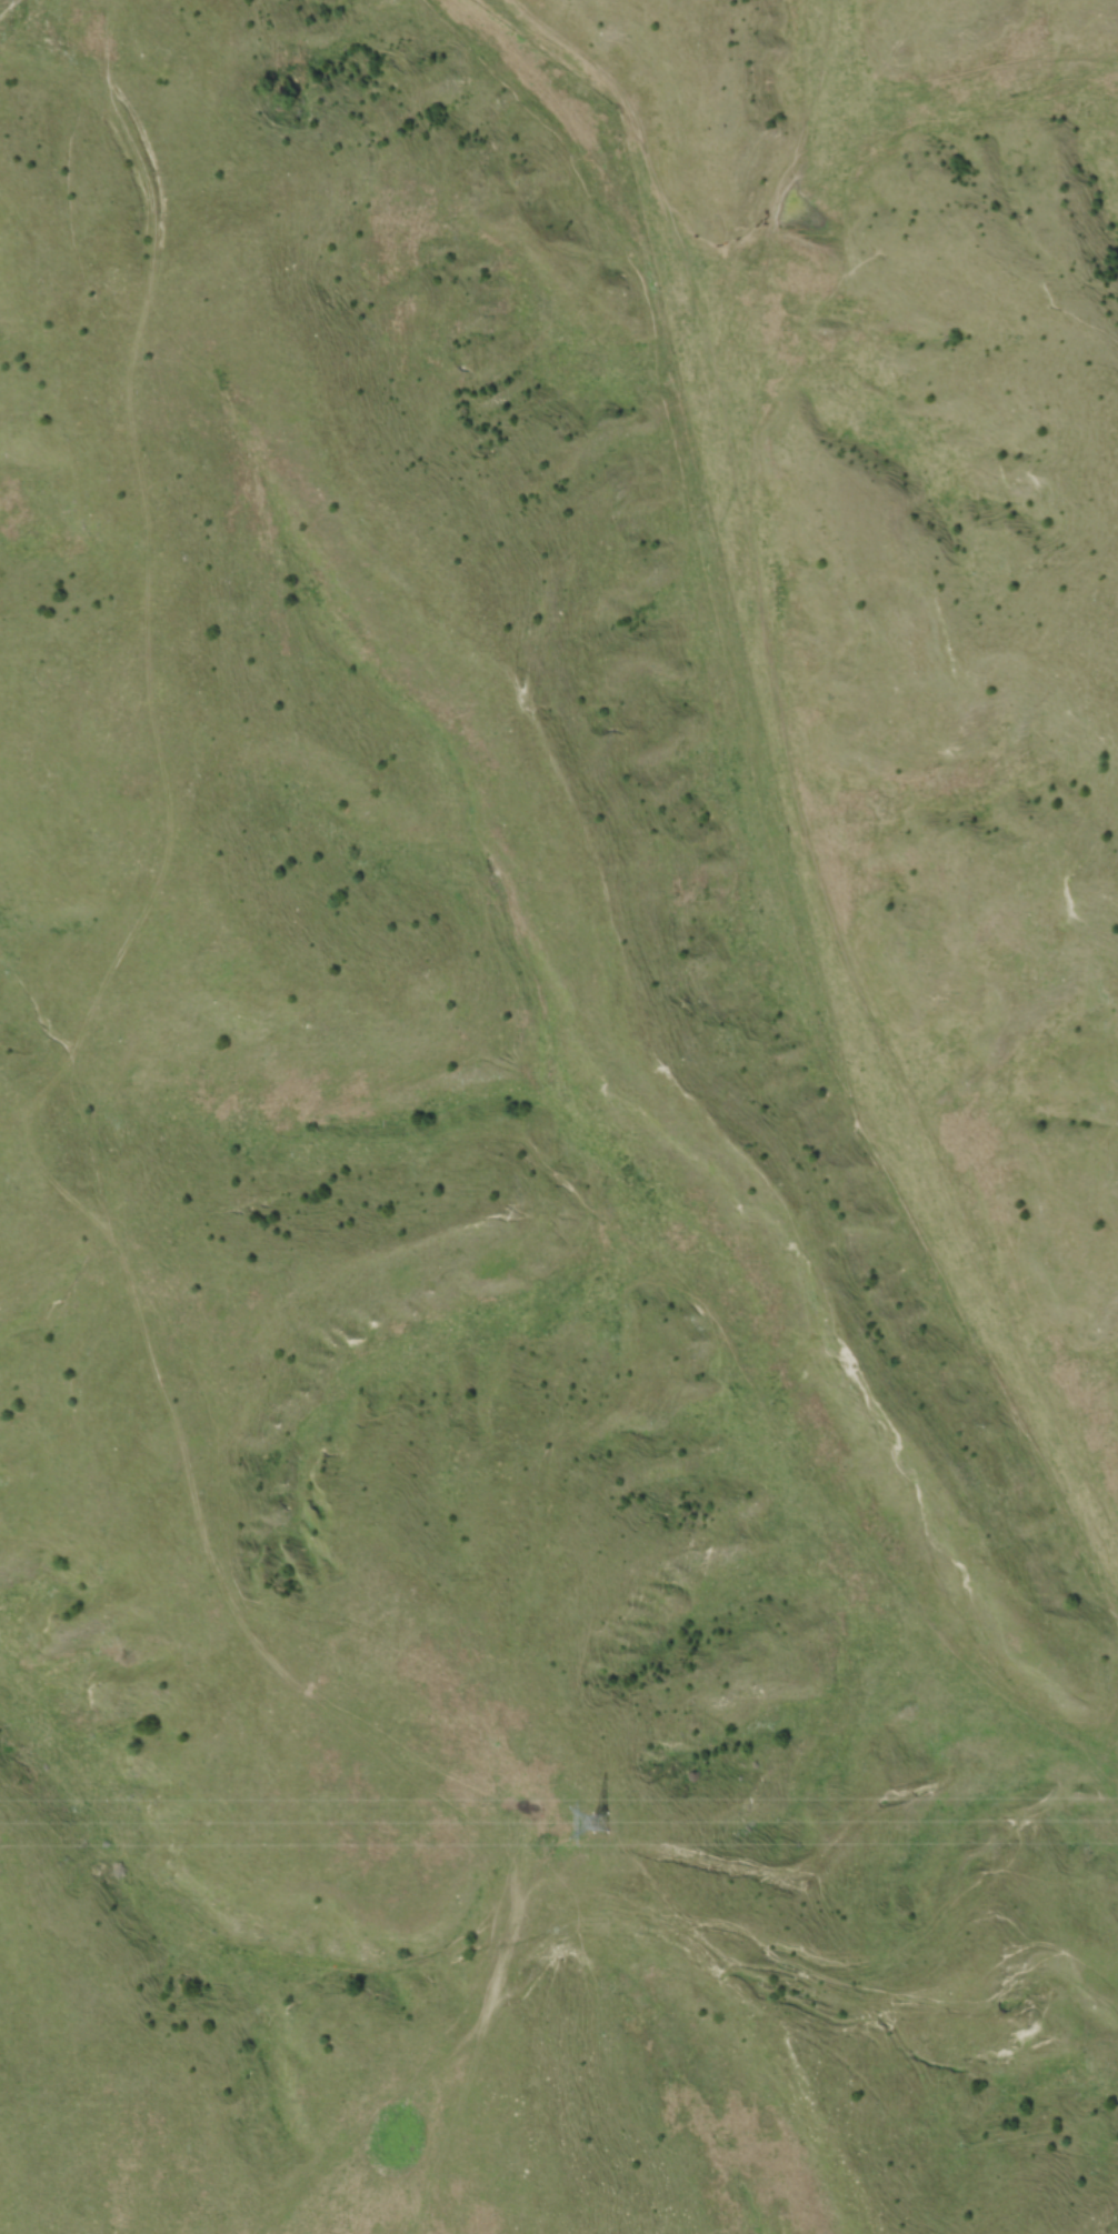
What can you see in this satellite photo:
power tower: (599, 1821)

